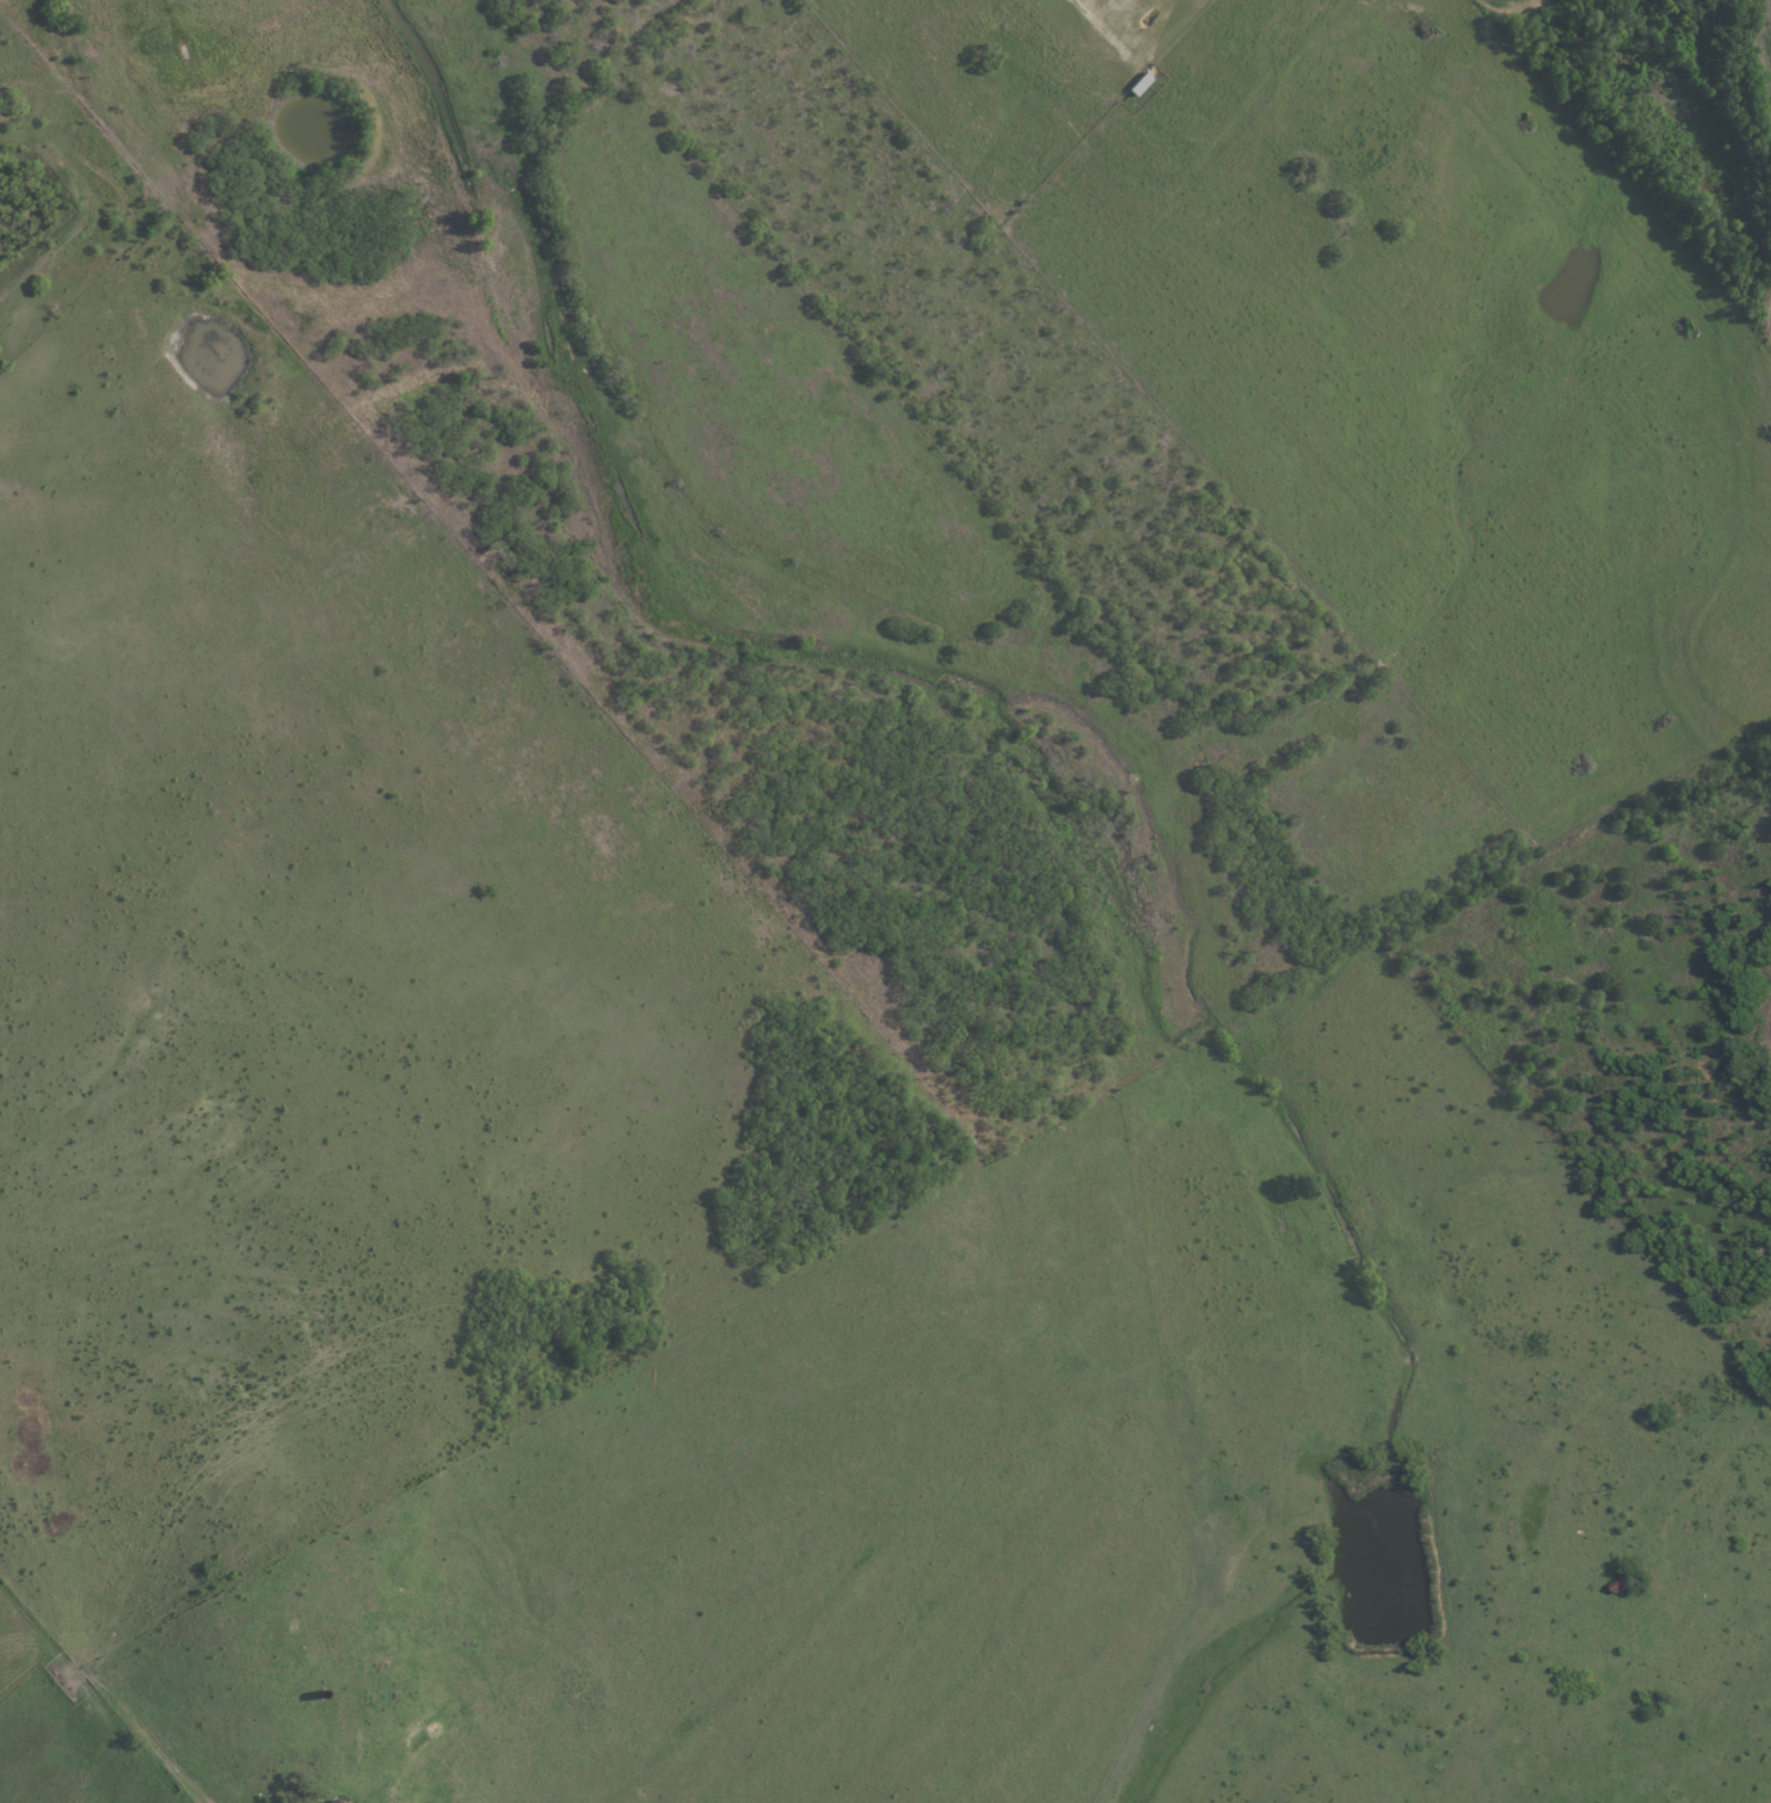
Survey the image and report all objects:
road: (20, 1672)

